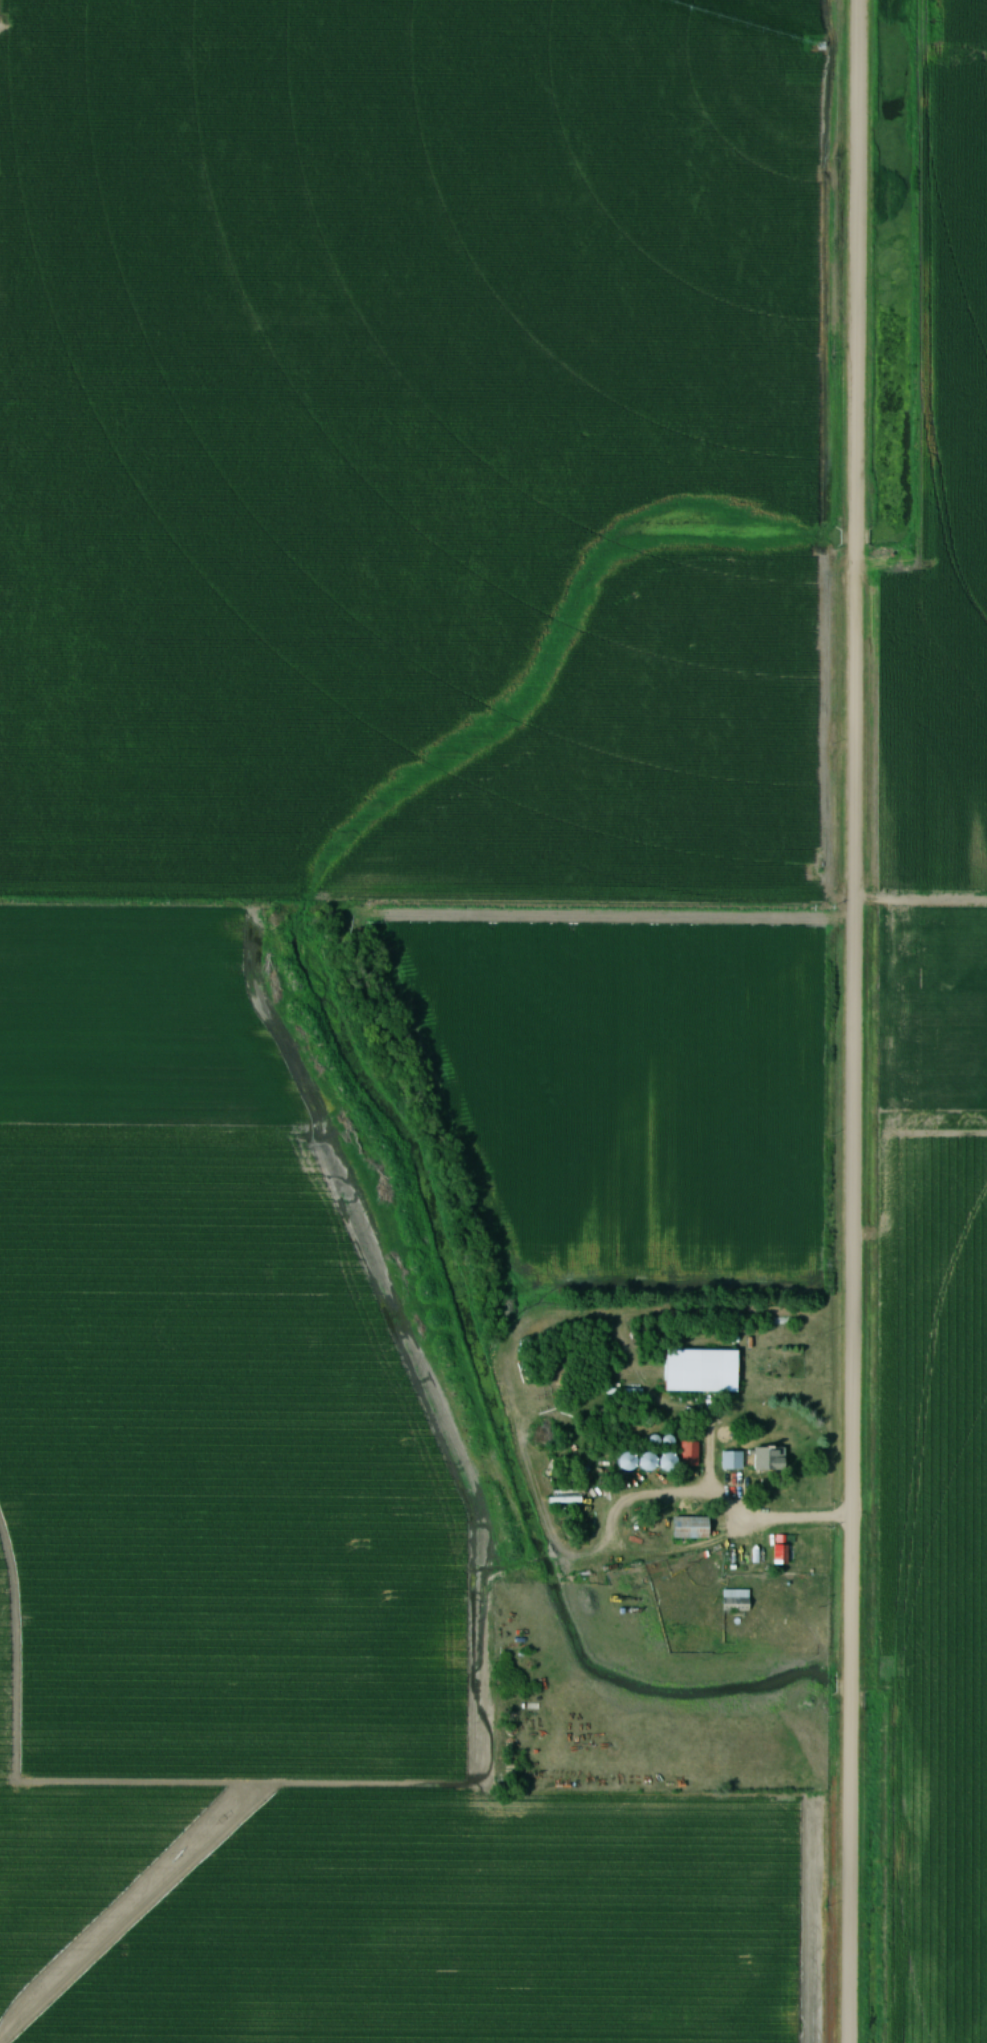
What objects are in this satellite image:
road: (853, 1021)
building: (703, 1371)
building: (690, 1455)
building: (771, 1460)
building: (566, 1498)
road: (797, 1521)
building: (690, 1525)
road: (614, 1551)
building: (779, 1555)
building: (735, 1601)

